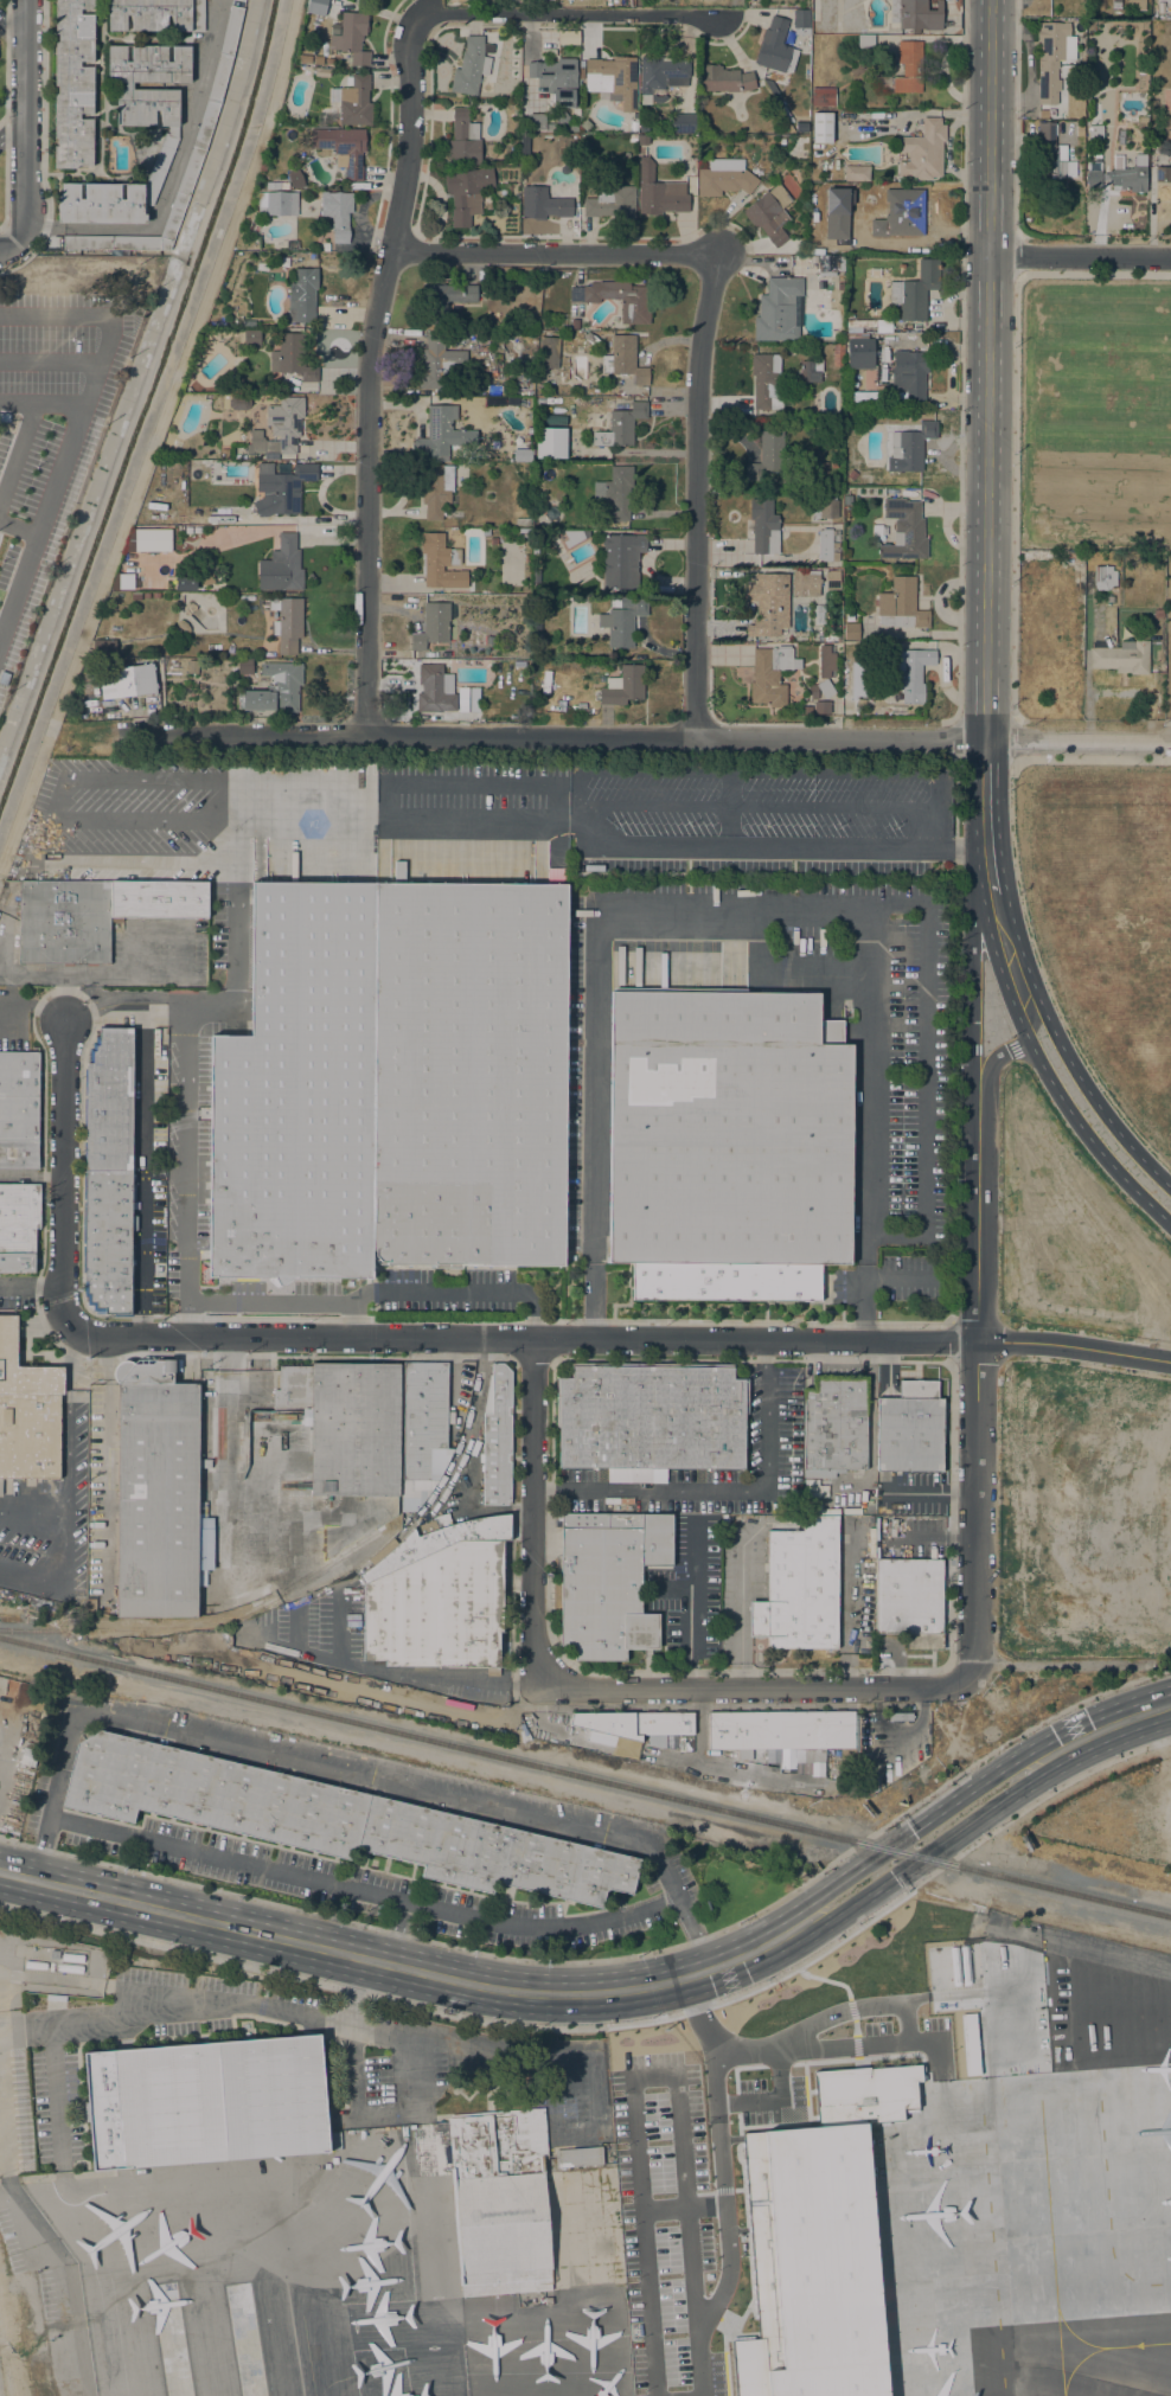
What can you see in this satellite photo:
building: (367, 0)
building: (1115, 5)
building: (1135, 5)
road: (569, 13)
building: (155, 14)
building: (915, 14)
building: (801, 20)
road: (11, 25)
building: (353, 37)
building: (865, 44)
building: (773, 46)
building: (305, 58)
building: (1051, 58)
building: (318, 59)
building: (329, 62)
building: (469, 66)
building: (909, 66)
building: (1141, 69)
building: (321, 71)
building: (581, 73)
building: (660, 76)
building: (612, 78)
building: (556, 79)
building: (723, 79)
building: (73, 83)
building: (823, 97)
building: (354, 101)
road: (5, 113)
building: (1047, 114)
road: (25, 118)
building: (1143, 120)
building: (532, 122)
building: (206, 123)
building: (683, 123)
building: (633, 126)
building: (585, 127)
building: (801, 127)
building: (821, 127)
building: (644, 128)
building: (575, 130)
road: (11, 133)
building: (1095, 133)
building: (575, 135)
building: (169, 136)
building: (463, 139)
building: (632, 139)
building: (642, 140)
building: (802, 140)
road: (41, 147)
building: (344, 148)
building: (922, 152)
building: (1051, 159)
building: (857, 173)
building: (1128, 174)
building: (1163, 174)
building: (296, 178)
building: (724, 178)
building: (1093, 179)
road: (175, 180)
building: (276, 186)
building: (659, 192)
building: (467, 193)
building: (544, 203)
building: (277, 204)
building: (612, 204)
building: (337, 214)
building: (770, 214)
road: (9, 245)
road: (549, 254)
road: (1080, 256)
building: (830, 264)
building: (874, 273)
building: (915, 292)
building: (302, 295)
building: (444, 301)
building: (635, 302)
building: (778, 309)
road: (60, 321)
building: (575, 323)
building: (247, 325)
building: (251, 338)
building: (591, 338)
building: (548, 352)
building: (863, 354)
building: (292, 355)
building: (837, 355)
building: (625, 359)
building: (437, 361)
road: (57, 363)
building: (811, 371)
road: (987, 371)
road: (369, 372)
building: (909, 377)
building: (766, 382)
building: (864, 398)
road: (89, 401)
building: (238, 402)
crop: (1094, 412)
road: (1015, 424)
building: (621, 425)
building: (279, 428)
building: (440, 433)
road: (156, 436)
building: (550, 442)
building: (911, 446)
building: (767, 454)
building: (833, 463)
building: (851, 475)
building: (436, 489)
building: (282, 491)
building: (616, 492)
road: (696, 499)
building: (845, 499)
building: (824, 508)
building: (847, 508)
road: (63, 510)
building: (847, 518)
building: (521, 521)
building: (763, 527)
building: (187, 530)
building: (197, 530)
building: (876, 530)
building: (903, 530)
building: (491, 536)
building: (572, 537)
building: (152, 540)
building: (826, 546)
building: (526, 550)
building: (535, 550)
building: (526, 558)
building: (621, 560)
building: (440, 562)
building: (287, 563)
building: (535, 576)
building: (1103, 577)
building: (124, 581)
building: (832, 581)
building: (184, 583)
building: (805, 583)
building: (767, 603)
building: (901, 606)
building: (819, 614)
building: (1157, 614)
building: (625, 621)
building: (287, 623)
building: (431, 626)
building: (850, 632)
building: (103, 646)
building: (1121, 658)
building: (243, 666)
building: (192, 667)
building: (824, 674)
building: (770, 675)
building: (909, 675)
building: (127, 681)
building: (623, 687)
building: (276, 688)
building: (435, 690)
building: (467, 699)
building: (820, 707)
building: (872, 707)
road: (1169, 722)
road: (555, 735)
road: (1077, 742)
road: (153, 777)
road: (553, 780)
road: (49, 818)
road: (307, 818)
road: (382, 819)
road: (985, 819)
road: (145, 820)
road: (561, 826)
road: (773, 847)
road: (136, 860)
building: (2, 896)
road: (1023, 908)
road: (729, 910)
building: (95, 915)
crop: (1106, 920)
road: (2, 940)
road: (28, 973)
road: (178, 976)
road: (239, 984)
road: (971, 992)
road: (32, 1008)
building: (105, 1027)
building: (92, 1049)
road: (1066, 1050)
road: (1003, 1052)
building: (468, 1074)
building: (84, 1081)
building: (297, 1093)
building: (109, 1102)
road: (1066, 1104)
building: (18, 1109)
building: (84, 1116)
building: (728, 1145)
building: (84, 1157)
road: (142, 1166)
road: (183, 1168)
road: (31, 1174)
building: (83, 1184)
building: (83, 1223)
building: (19, 1226)
building: (108, 1239)
building: (83, 1261)
road: (31, 1288)
building: (87, 1295)
building: (132, 1301)
road: (466, 1339)
road: (977, 1402)
building: (27, 1412)
road: (222, 1415)
road: (68, 1417)
building: (422, 1418)
building: (651, 1420)
building: (346, 1426)
building: (833, 1426)
building: (910, 1428)
building: (497, 1437)
road: (105, 1456)
road: (722, 1490)
building: (155, 1491)
road: (533, 1512)
building: (725, 1519)
road: (55, 1539)
building: (434, 1542)
building: (609, 1581)
building: (799, 1588)
building: (909, 1601)
building: (437, 1608)
road: (691, 1608)
road: (742, 1617)
road: (850, 1620)
road: (341, 1625)
road: (293, 1627)
railway: (180, 1628)
railway: (110, 1633)
building: (245, 1641)
road: (397, 1671)
road: (755, 1689)
road: (1124, 1719)
building: (636, 1724)
road: (900, 1726)
building: (781, 1732)
road: (599, 1745)
building: (28, 1756)
road: (728, 1767)
road: (345, 1774)
railway: (584, 1779)
building: (210, 1794)
road: (906, 1832)
building: (493, 1854)
road: (921, 1858)
road: (360, 1892)
building: (53, 1954)
building: (72, 1958)
road: (616, 1959)
road: (373, 1962)
building: (34, 1965)
building: (51, 1967)
building: (69, 1968)
building: (897, 1977)
road: (124, 1990)
road: (353, 1991)
building: (57, 1999)
road: (858, 2007)
road: (217, 2009)
road: (25, 2025)
road: (616, 2025)
road: (657, 2077)
building: (845, 2080)
airport hangar: (210, 2102)
building: (210, 2102)
road: (377, 2119)
road: (577, 2139)
road: (719, 2152)
airport: (595, 2180)
airport hangar: (504, 2199)
building: (504, 2199)
road: (682, 2206)
road: (18, 2263)
building: (548, 2301)
airport taxiway: (1109, 2347)
airport taxiway: (307, 2357)
road: (5, 2364)
building: (993, 2383)

